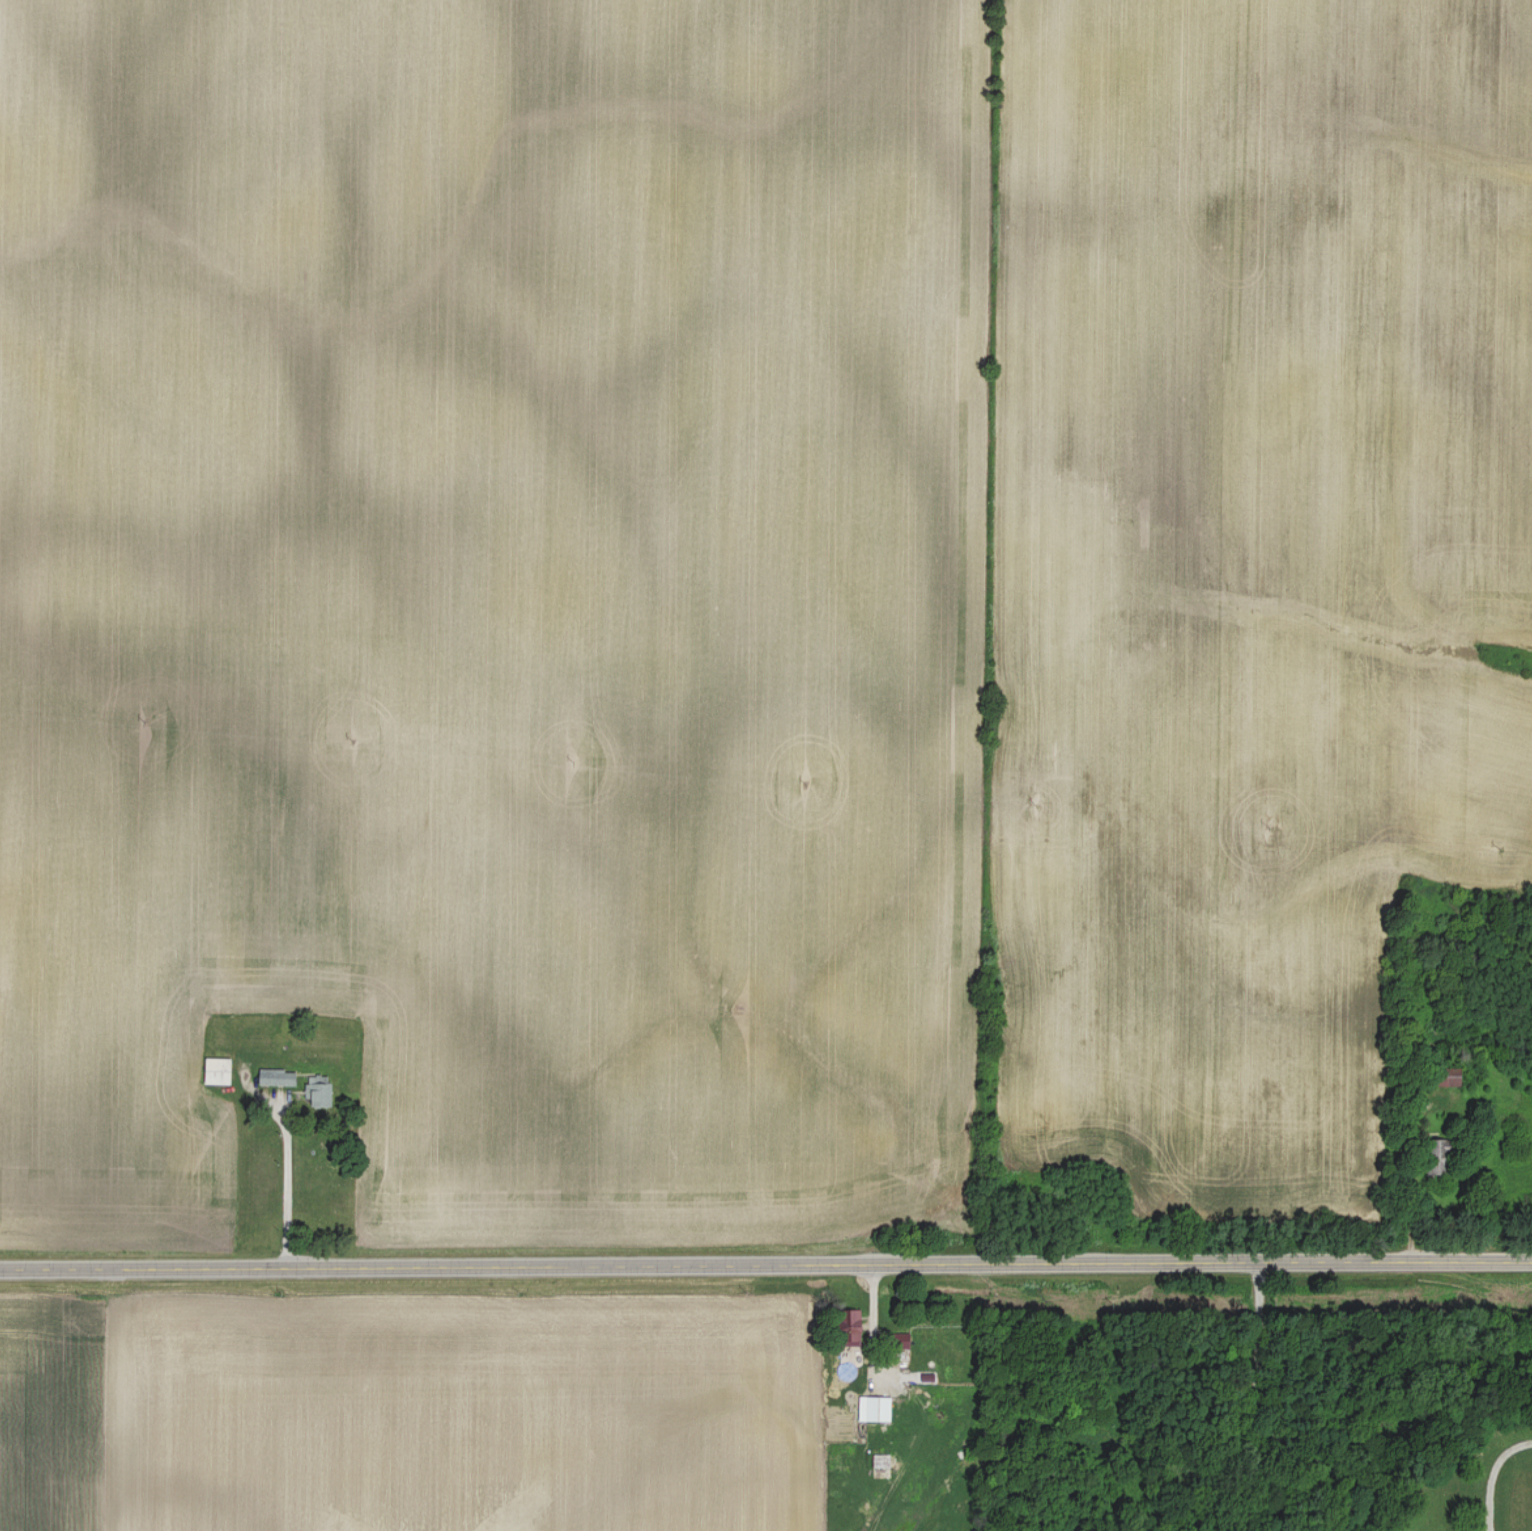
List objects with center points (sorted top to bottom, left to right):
road: (766, 1266)
building: (857, 1324)
building: (875, 1408)

